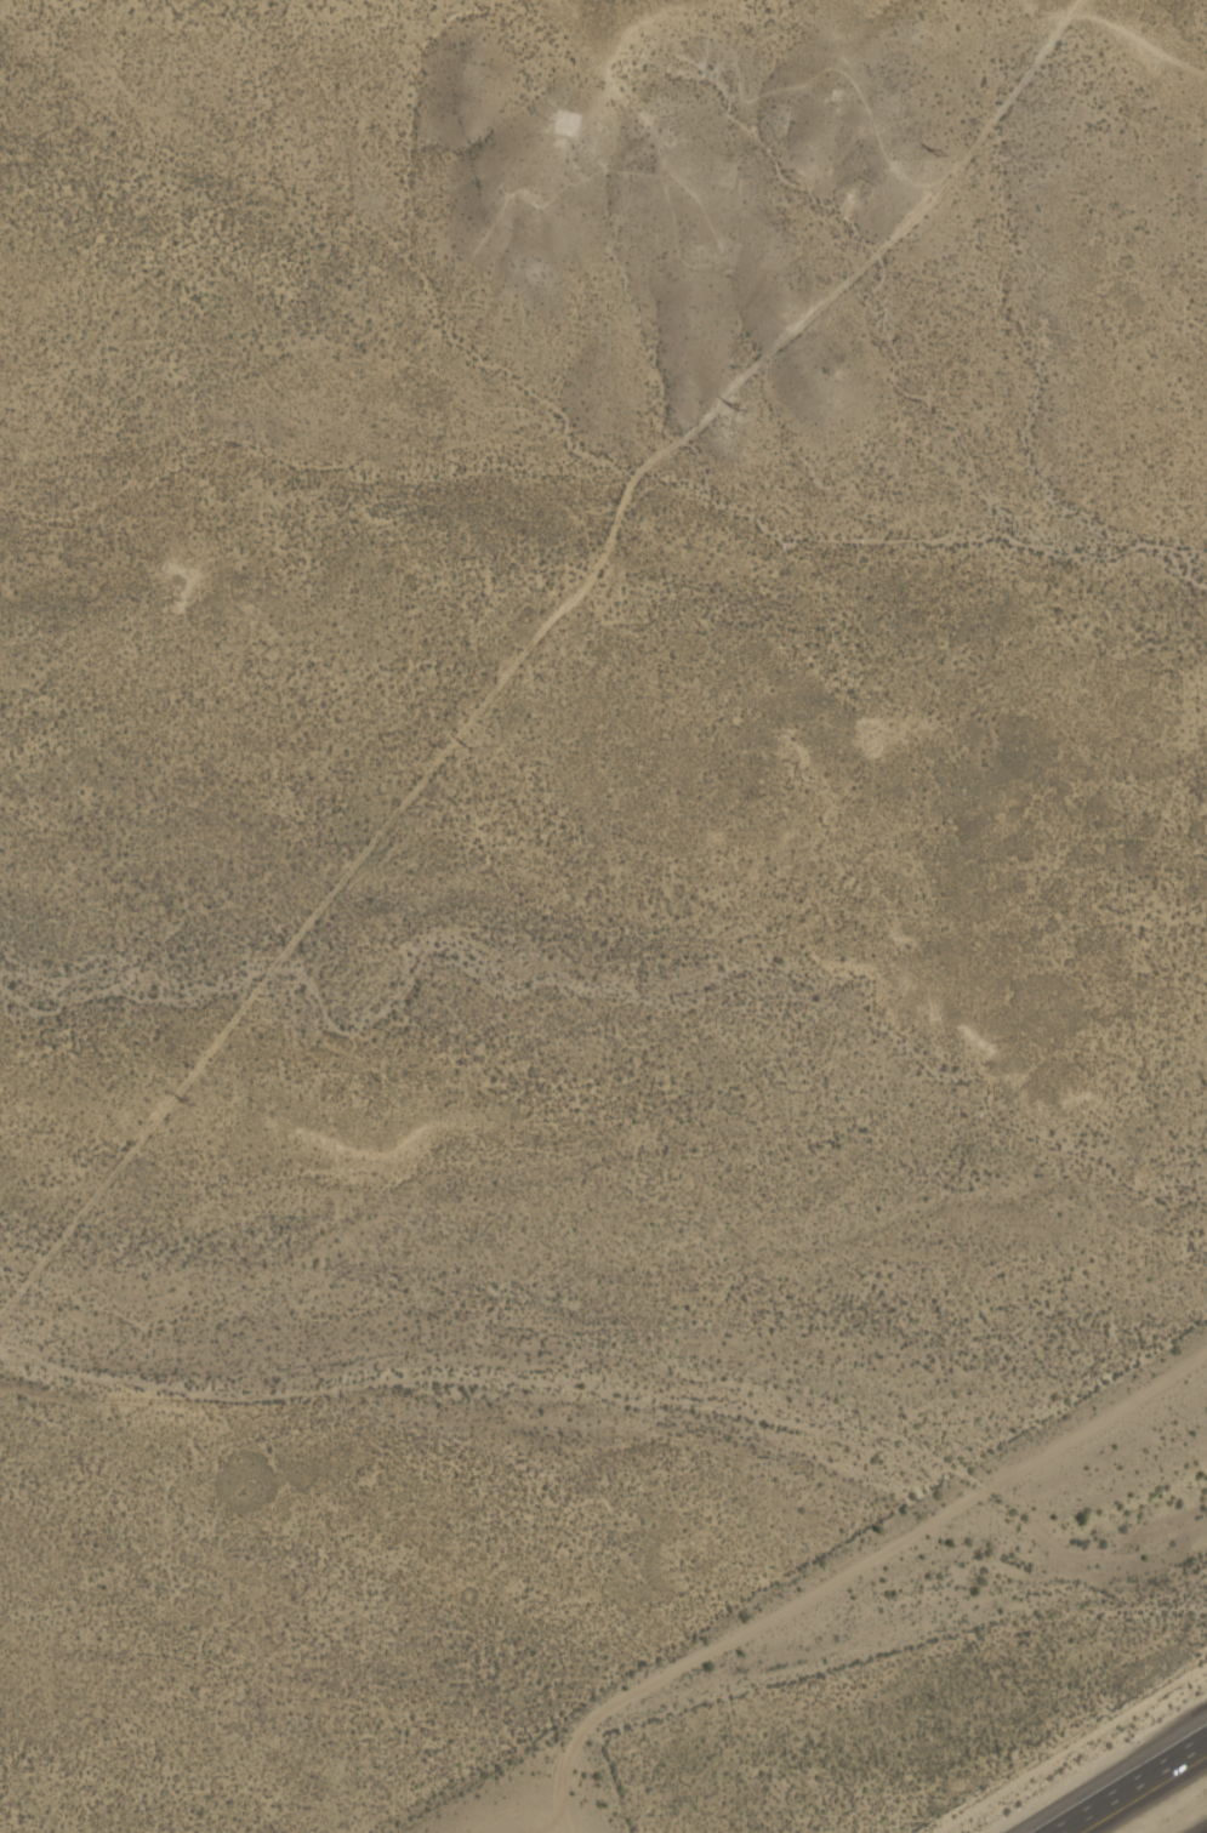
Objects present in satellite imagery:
power tower: (930, 150)
power tower: (729, 406)
power tower: (462, 745)
power tower: (181, 1100)
road: (1129, 1784)

